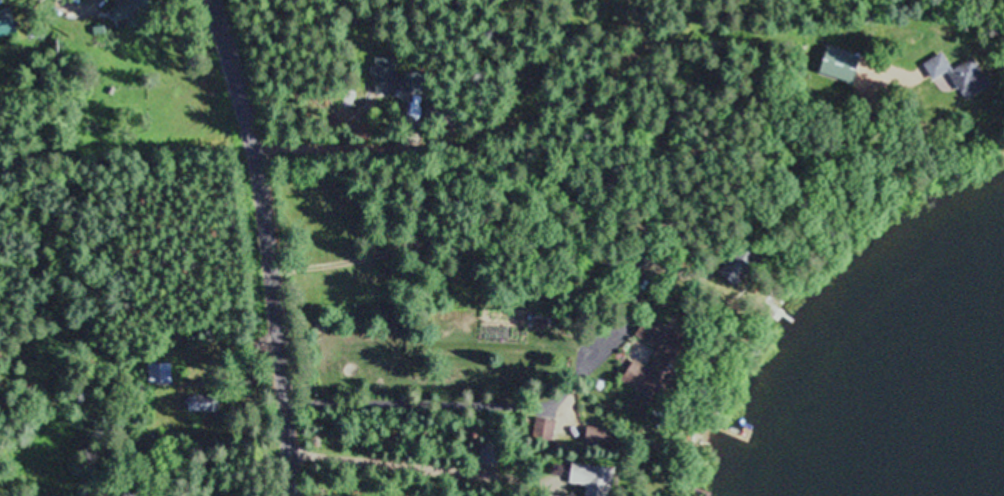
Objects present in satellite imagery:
building: (133, 9)
building: (7, 23)
building: (840, 65)
building: (960, 75)
building: (392, 78)
road: (564, 98)
road: (276, 245)
building: (734, 271)
building: (657, 363)
building: (160, 374)
building: (203, 403)
building: (543, 429)
building: (600, 436)
building: (488, 454)
building: (593, 478)

